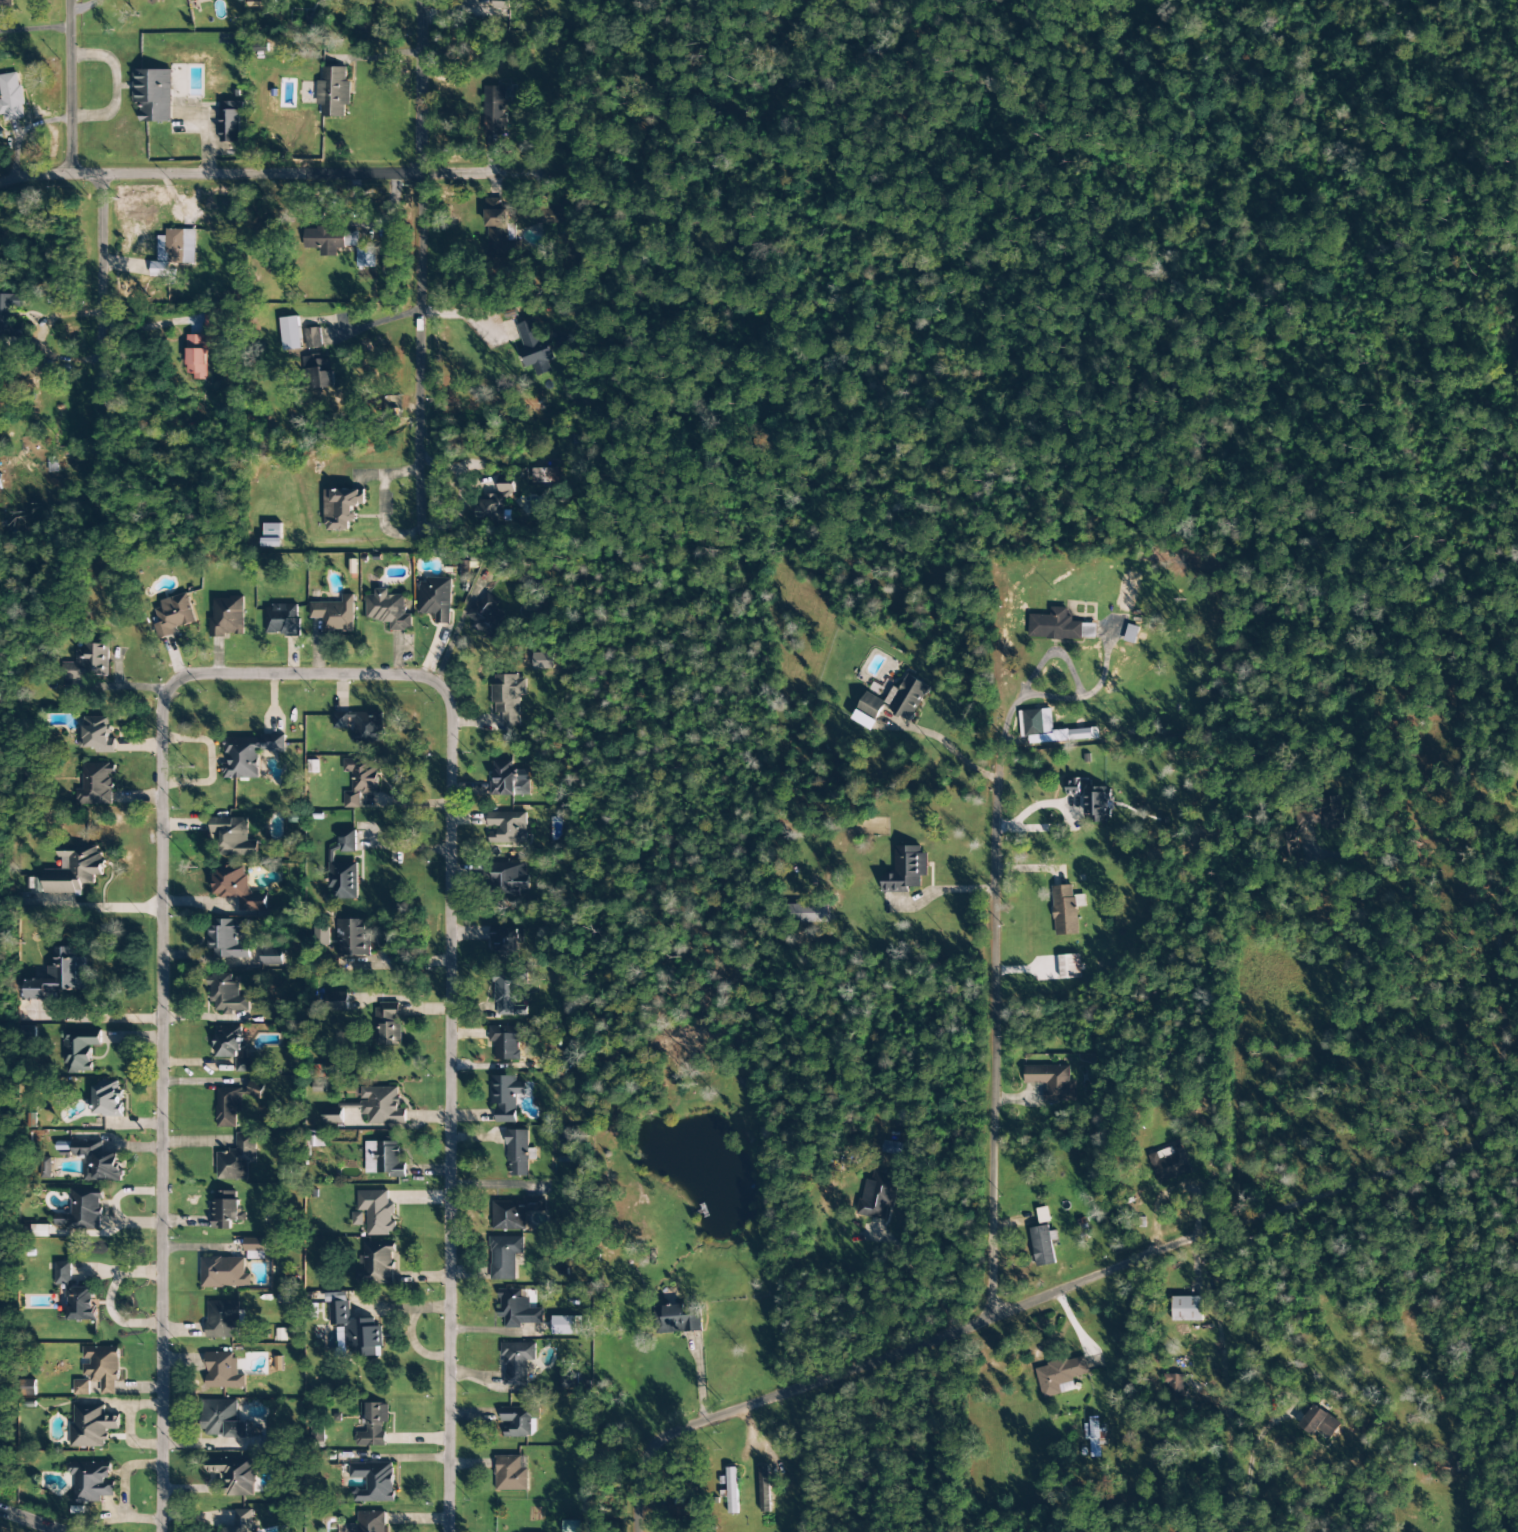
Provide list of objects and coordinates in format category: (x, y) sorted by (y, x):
building: (189, 0)
building: (6, 3)
building: (501, 5)
road: (69, 85)
building: (333, 92)
building: (153, 94)
building: (10, 97)
building: (493, 110)
building: (230, 121)
road: (281, 167)
building: (495, 226)
building: (330, 240)
building: (175, 245)
building: (366, 257)
road: (420, 265)
building: (9, 315)
building: (211, 320)
building: (290, 333)
building: (312, 338)
building: (560, 341)
building: (533, 346)
building: (198, 354)
road: (105, 368)
building: (318, 372)
building: (544, 475)
building: (496, 504)
building: (341, 508)
building: (272, 535)
building: (1127, 585)
building: (435, 599)
building: (388, 610)
building: (335, 614)
building: (173, 615)
building: (227, 617)
building: (487, 618)
building: (282, 620)
building: (1054, 626)
building: (1130, 634)
building: (542, 661)
building: (88, 662)
road: (302, 671)
building: (508, 698)
building: (894, 698)
building: (863, 720)
building: (1037, 723)
building: (361, 725)
building: (1079, 734)
building: (97, 735)
building: (247, 755)
building: (33, 779)
building: (360, 780)
building: (508, 781)
building: (96, 784)
building: (1072, 787)
building: (1097, 804)
building: (507, 828)
building: (232, 837)
building: (344, 866)
building: (905, 869)
building: (74, 871)
building: (508, 878)
building: (238, 888)
building: (1064, 910)
building: (807, 913)
building: (352, 938)
building: (228, 939)
building: (507, 943)
building: (272, 957)
building: (1068, 967)
building: (58, 976)
building: (227, 994)
building: (509, 996)
building: (337, 1001)
road: (971, 1013)
building: (387, 1023)
building: (508, 1040)
building: (233, 1047)
building: (80, 1048)
building: (1052, 1081)
building: (255, 1089)
building: (506, 1097)
building: (105, 1099)
building: (228, 1106)
building: (382, 1106)
building: (332, 1116)
building: (891, 1148)
building: (517, 1153)
building: (237, 1158)
building: (384, 1159)
building: (98, 1161)
building: (1169, 1164)
building: (878, 1195)
building: (82, 1210)
building: (226, 1211)
building: (377, 1212)
building: (514, 1213)
building: (358, 1219)
building: (40, 1231)
building: (1043, 1245)
building: (255, 1248)
building: (504, 1257)
building: (376, 1263)
building: (224, 1273)
road: (1020, 1284)
building: (76, 1295)
building: (517, 1309)
building: (1186, 1309)
building: (223, 1319)
building: (677, 1319)
building: (564, 1325)
building: (354, 1328)
building: (516, 1363)
building: (102, 1367)
building: (223, 1371)
building: (1060, 1375)
building: (567, 1380)
building: (1175, 1386)
building: (81, 1387)
building: (222, 1419)
building: (519, 1422)
building: (1319, 1422)
building: (373, 1425)
building: (91, 1426)
building: (1095, 1436)
building: (510, 1474)
building: (234, 1475)
building: (91, 1481)
building: (373, 1482)
building: (731, 1490)
road: (31, 1520)
building: (241, 1521)
building: (368, 1522)
building: (572, 1526)

